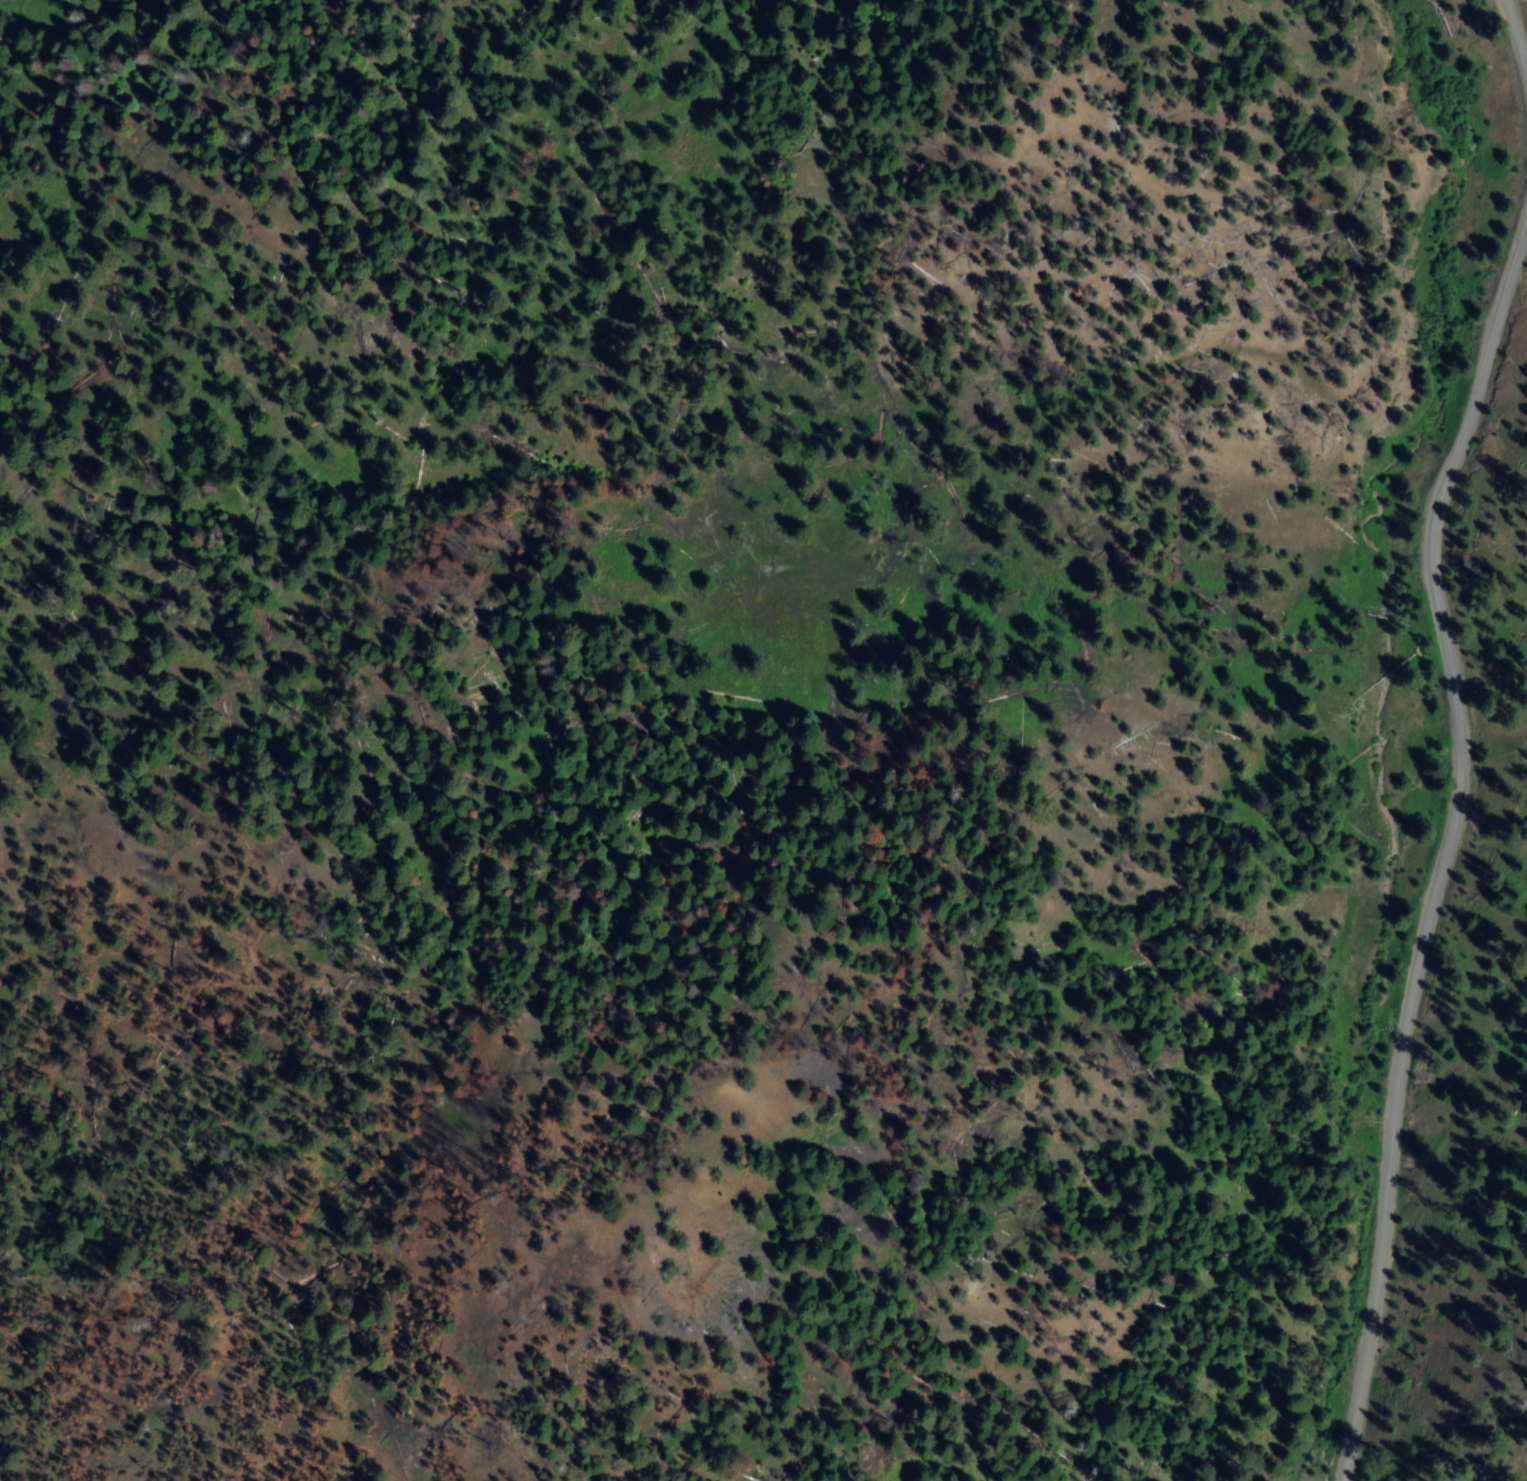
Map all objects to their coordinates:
road: (1517, 45)
road: (1446, 831)

